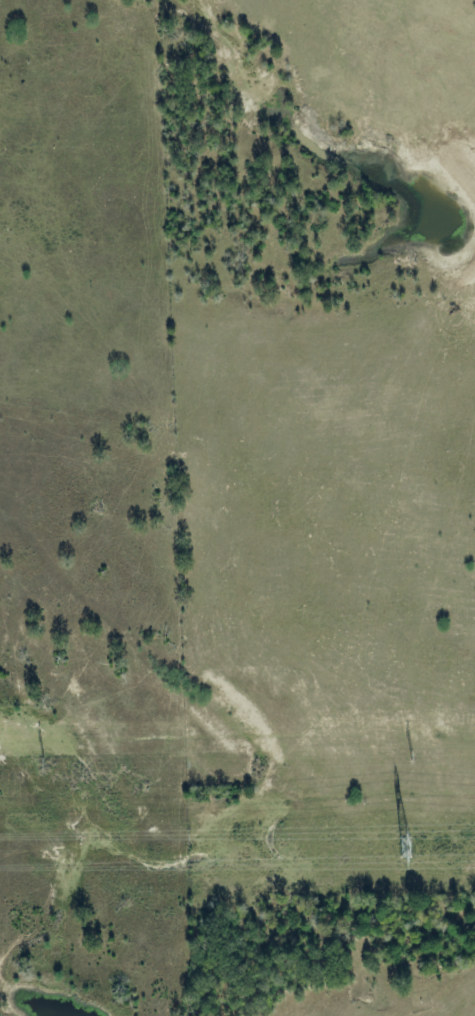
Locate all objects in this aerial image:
power tower: (415, 758)
power tower: (47, 764)
power tower: (406, 847)

